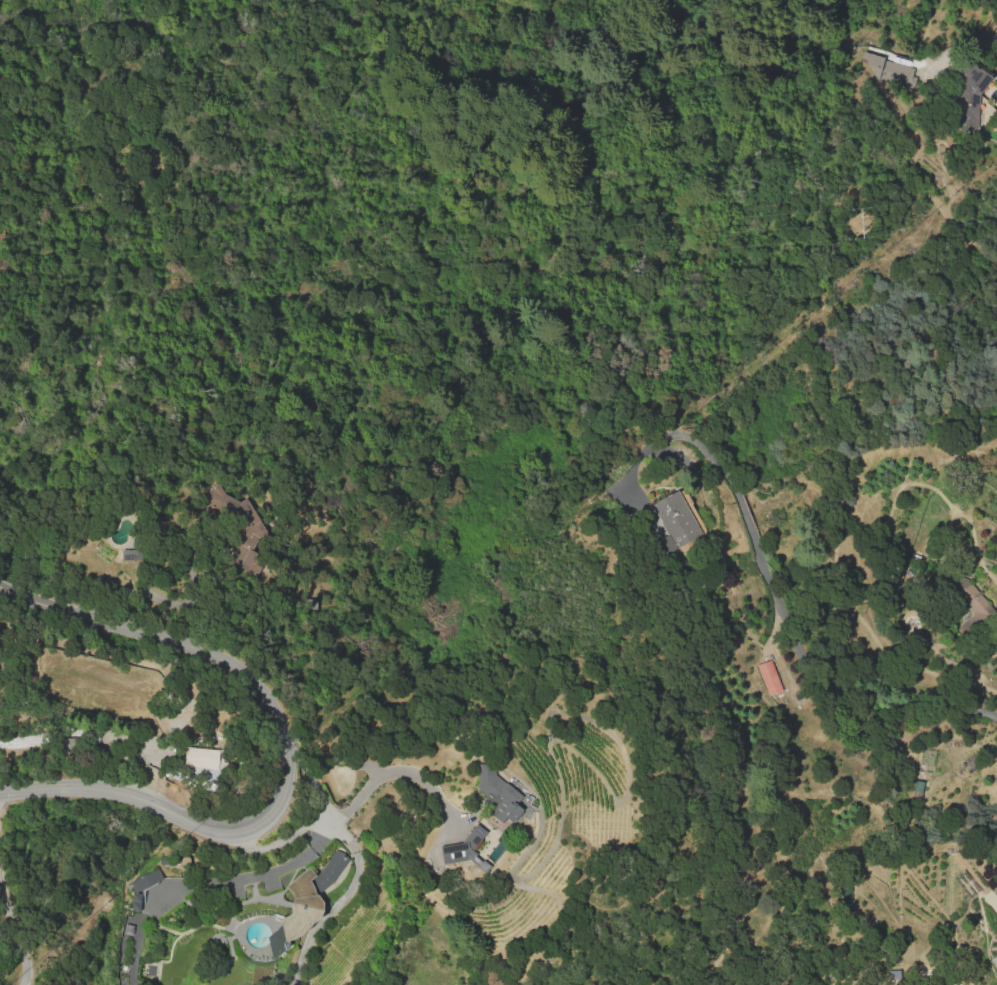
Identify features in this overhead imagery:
building: (887, 69)
building: (977, 91)
building: (683, 521)
building: (238, 526)
building: (133, 555)
road: (781, 611)
building: (770, 675)
road: (285, 751)
building: (203, 757)
building: (220, 761)
road: (391, 771)
building: (495, 787)
building: (510, 812)
road: (314, 824)
building: (467, 848)
building: (334, 867)
building: (146, 880)
road: (203, 882)
road: (342, 902)
building: (299, 911)
road: (15, 937)
building: (994, 960)

